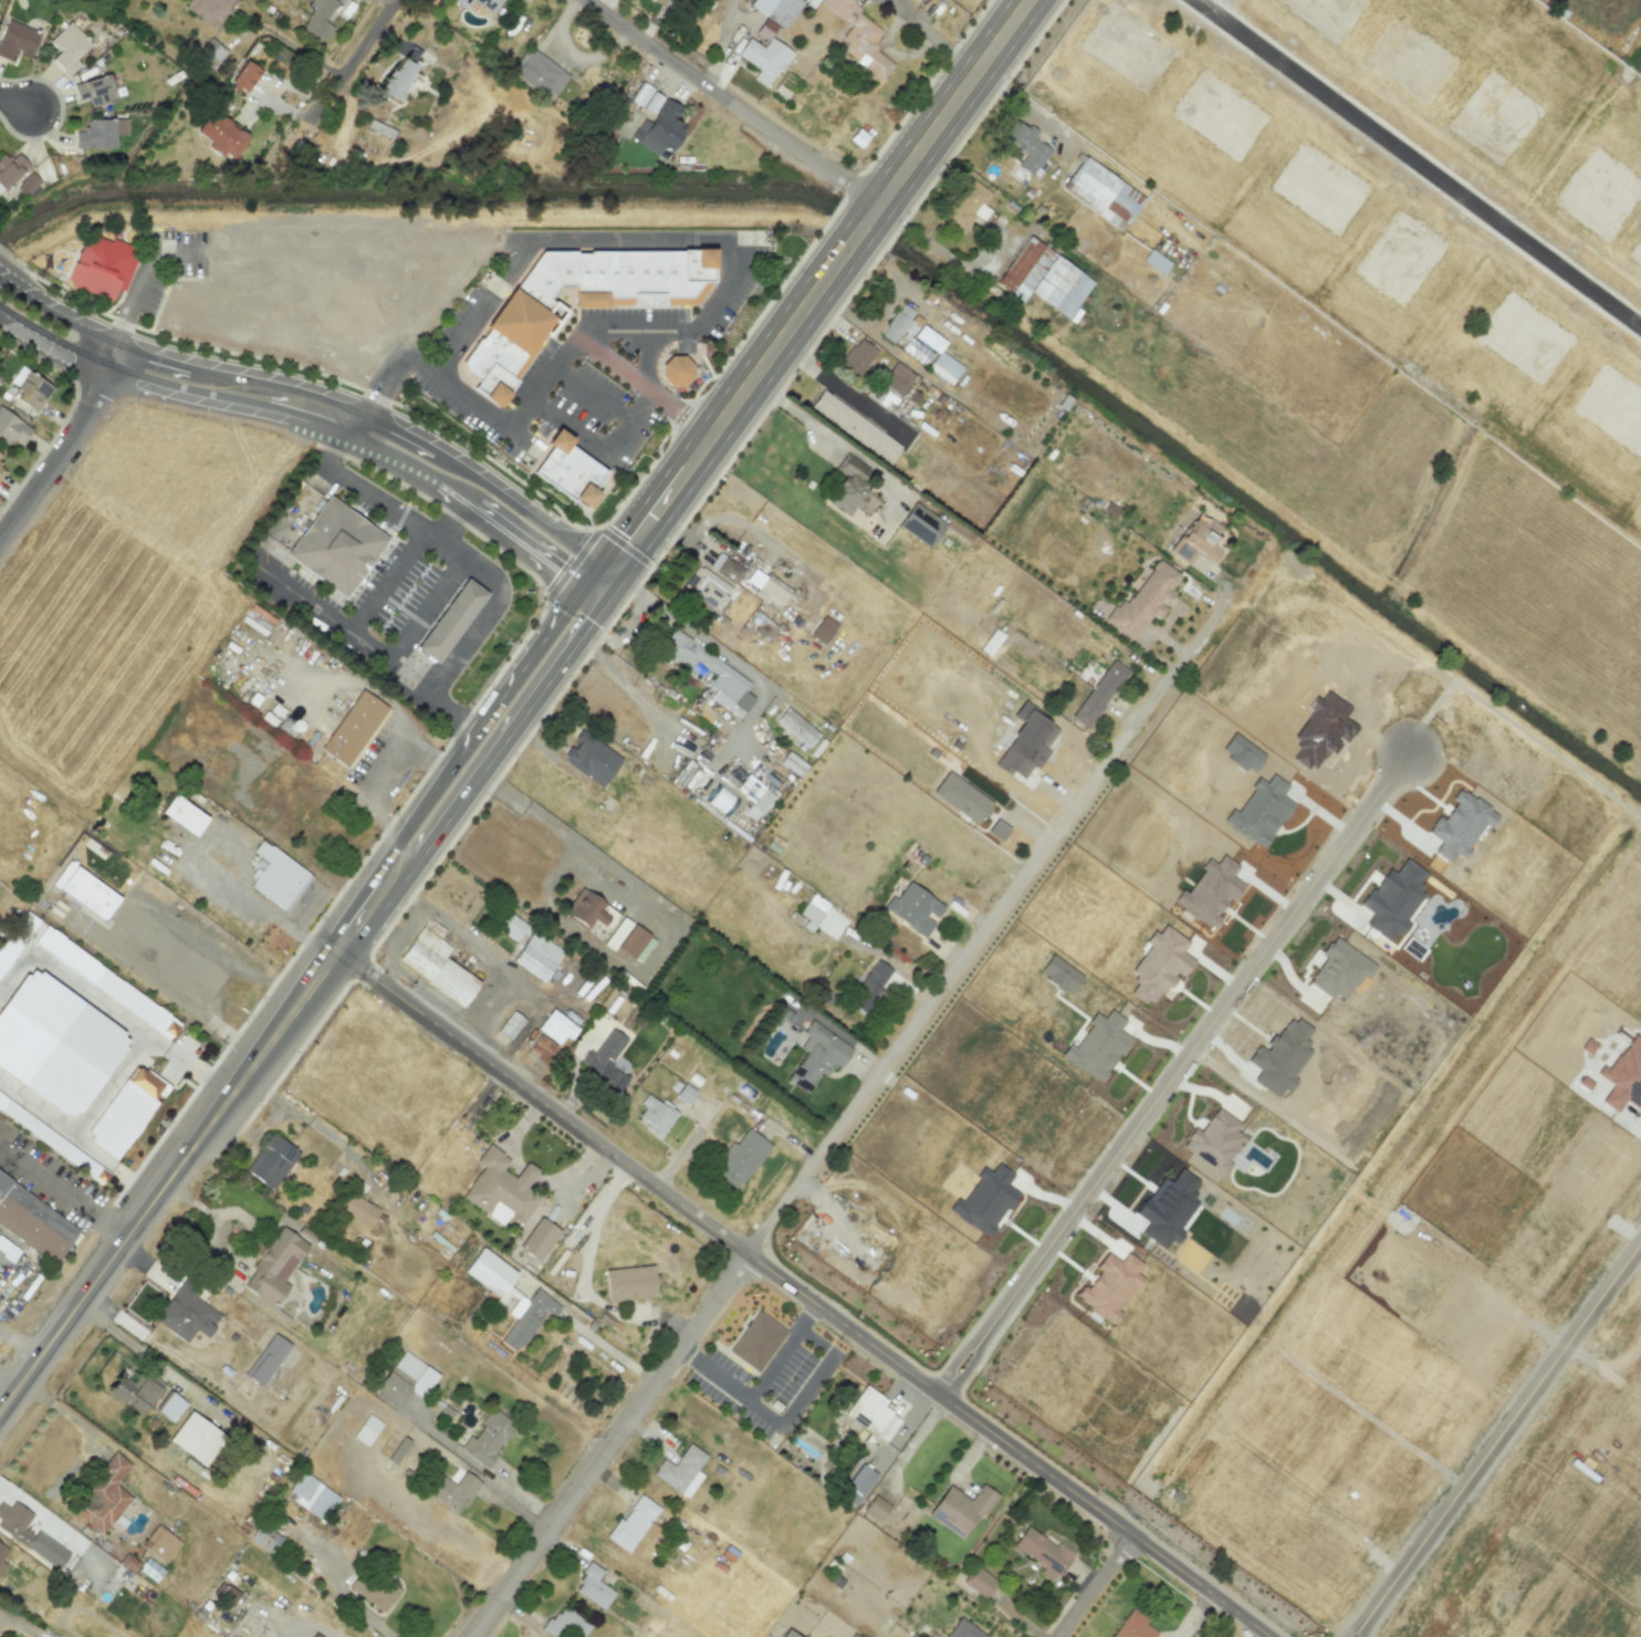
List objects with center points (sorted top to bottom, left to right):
building: (657, 1)
building: (462, 3)
building: (489, 4)
building: (208, 10)
building: (774, 13)
building: (317, 20)
road: (933, 37)
building: (858, 38)
building: (17, 39)
road: (291, 43)
road: (722, 43)
building: (66, 48)
road: (355, 55)
building: (763, 59)
building: (539, 72)
building: (243, 76)
building: (398, 80)
building: (94, 90)
building: (646, 98)
road: (14, 102)
road: (732, 102)
road: (60, 112)
building: (658, 129)
building: (100, 133)
building: (220, 136)
building: (1025, 147)
road: (1417, 165)
building: (10, 169)
building: (28, 183)
building: (1101, 192)
building: (968, 206)
road: (568, 237)
road: (934, 248)
road: (9, 257)
road: (148, 262)
building: (103, 263)
parking lot: (165, 265)
building: (1043, 279)
road: (812, 298)
road: (588, 307)
building: (232, 309)
building: (522, 315)
building: (326, 317)
building: (897, 323)
road: (122, 330)
road: (686, 351)
building: (916, 351)
road: (563, 354)
building: (938, 355)
building: (857, 358)
building: (677, 369)
building: (896, 378)
road: (847, 387)
building: (29, 388)
road: (644, 388)
road: (321, 393)
road: (378, 394)
road: (312, 423)
building: (854, 427)
building: (12, 428)
road: (825, 430)
road: (618, 435)
road: (547, 436)
road: (67, 444)
building: (0, 455)
road: (501, 468)
building: (0, 470)
building: (573, 472)
road: (710, 483)
building: (848, 487)
road: (297, 494)
road: (449, 520)
road: (743, 523)
road: (409, 524)
building: (921, 524)
building: (1196, 542)
building: (335, 543)
road: (625, 544)
building: (725, 569)
traffic signals: (618, 570)
road: (386, 583)
building: (707, 591)
building: (772, 591)
traffic signals: (597, 598)
building: (1144, 601)
road: (424, 611)
road: (587, 612)
building: (450, 617)
building: (823, 629)
road: (468, 642)
building: (992, 642)
road: (1188, 647)
road: (372, 650)
building: (728, 676)
road: (534, 685)
road: (630, 690)
building: (1099, 692)
building: (353, 726)
building: (796, 727)
road: (483, 757)
building: (592, 759)
building: (792, 763)
road: (470, 775)
building: (749, 792)
building: (961, 796)
building: (721, 799)
building: (185, 817)
building: (921, 859)
road: (401, 867)
building: (276, 874)
building: (87, 892)
building: (1392, 898)
building: (913, 908)
building: (585, 909)
road: (121, 915)
building: (811, 915)
road: (673, 921)
building: (514, 929)
building: (616, 934)
road: (460, 935)
building: (17, 938)
building: (635, 943)
parking lot: (157, 948)
building: (545, 960)
building: (1159, 965)
building: (442, 968)
building: (1338, 970)
building: (105, 981)
building: (870, 986)
building: (560, 1023)
building: (510, 1025)
building: (56, 1042)
building: (1097, 1045)
road: (1190, 1046)
building: (540, 1049)
building: (817, 1056)
building: (604, 1062)
building: (684, 1093)
road: (543, 1103)
building: (125, 1111)
building: (655, 1114)
road: (323, 1132)
road: (514, 1132)
building: (52, 1139)
building: (1222, 1139)
building: (741, 1158)
building: (271, 1160)
road: (569, 1170)
road: (802, 1177)
road: (166, 1179)
building: (3, 1186)
road: (64, 1187)
building: (502, 1189)
building: (985, 1199)
building: (358, 1209)
building: (1169, 1209)
building: (35, 1223)
road: (250, 1224)
building: (539, 1239)
building: (8, 1250)
building: (275, 1263)
building: (489, 1272)
building: (630, 1282)
building: (1109, 1285)
building: (186, 1313)
building: (526, 1317)
building: (756, 1342)
road: (608, 1348)
road: (17, 1349)
building: (266, 1359)
road: (151, 1360)
road: (952, 1362)
road: (965, 1370)
building: (406, 1377)
parking lot: (769, 1379)
road: (6, 1387)
road: (757, 1387)
road: (808, 1387)
building: (135, 1391)
building: (170, 1407)
building: (871, 1414)
road: (1507, 1424)
road: (80, 1428)
building: (366, 1429)
building: (196, 1438)
building: (488, 1438)
road: (1008, 1443)
building: (398, 1450)
building: (681, 1470)
building: (857, 1483)
building: (453, 1491)
building: (103, 1495)
building: (311, 1495)
building: (876, 1508)
building: (961, 1508)
building: (634, 1524)
building: (29, 1534)
building: (264, 1537)
building: (159, 1544)
building: (1043, 1553)
building: (2, 1556)
building: (150, 1570)
building: (980, 1582)
road: (1094, 1585)
building: (593, 1587)
building: (373, 1589)
road: (339, 1591)
road: (1356, 1620)
road: (1367, 1623)
building: (566, 1624)
building: (1132, 1626)
building: (963, 1630)
building: (786, 1634)
building: (315, 1635)
building: (851, 1636)

